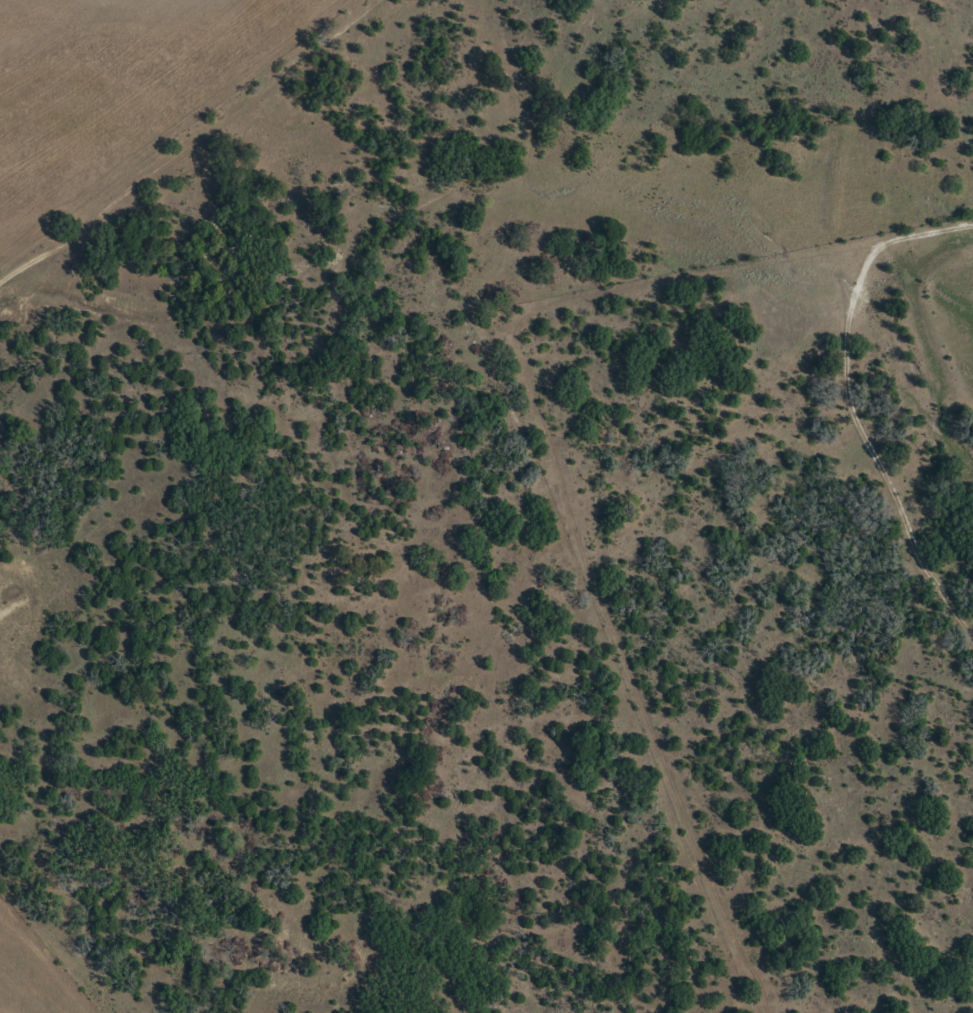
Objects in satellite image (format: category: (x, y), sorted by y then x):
road: (167, 129)

